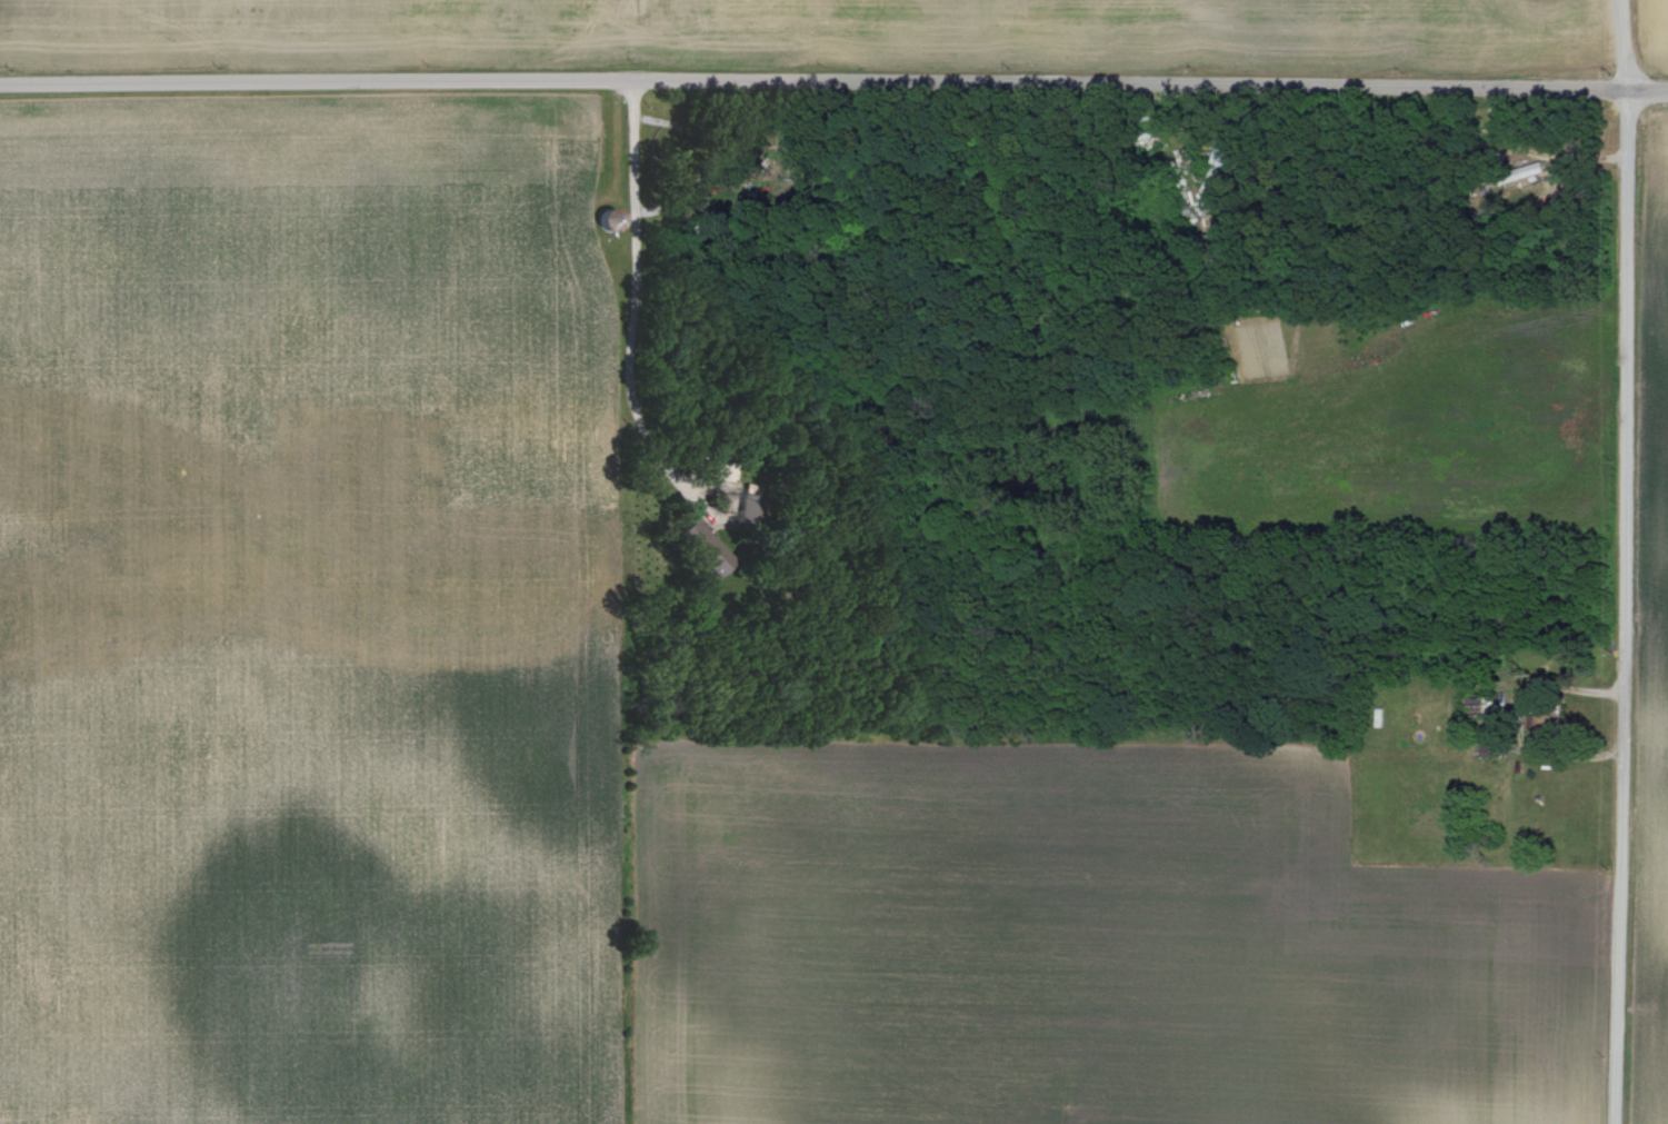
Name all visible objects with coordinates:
road: (833, 80)
road: (1539, 151)
road: (631, 300)
building: (707, 545)
road: (1620, 561)
road: (1560, 688)

